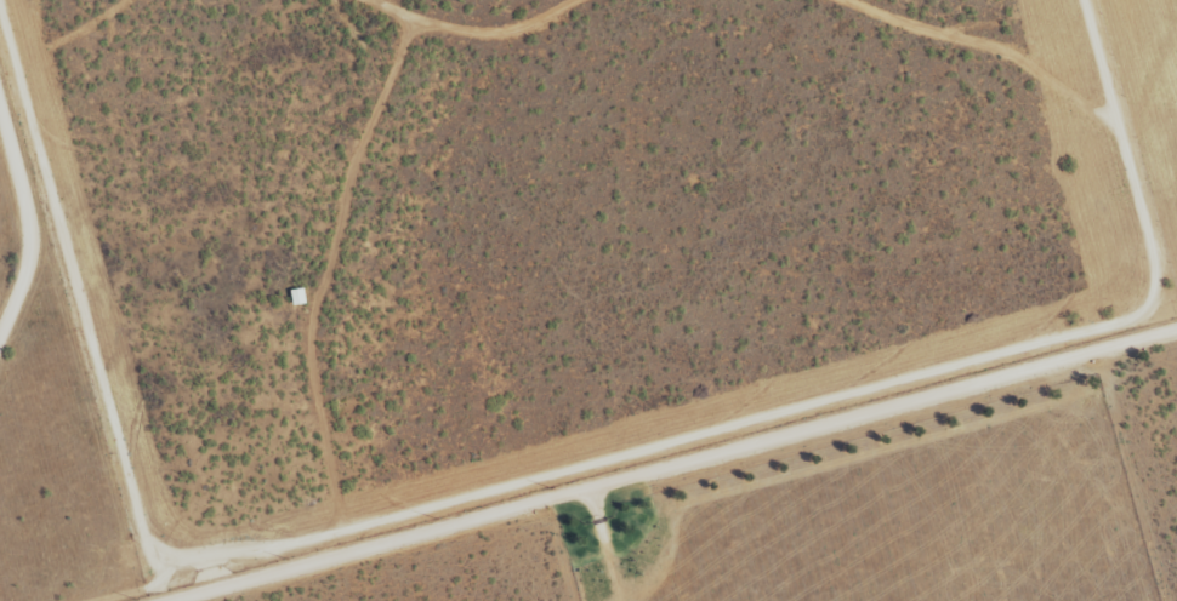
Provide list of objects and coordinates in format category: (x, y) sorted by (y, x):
road: (28, 228)

